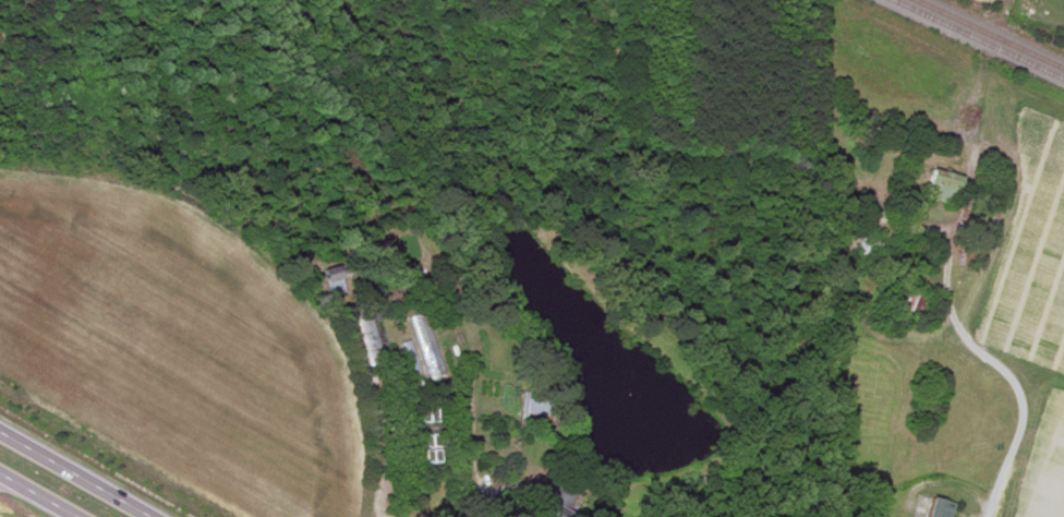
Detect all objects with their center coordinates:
railway: (989, 34)
railway: (975, 40)
building: (940, 185)
road: (874, 333)
road: (1013, 383)
building: (535, 409)
road: (83, 469)
road: (382, 491)
road: (39, 494)
building: (559, 501)
building: (942, 508)

